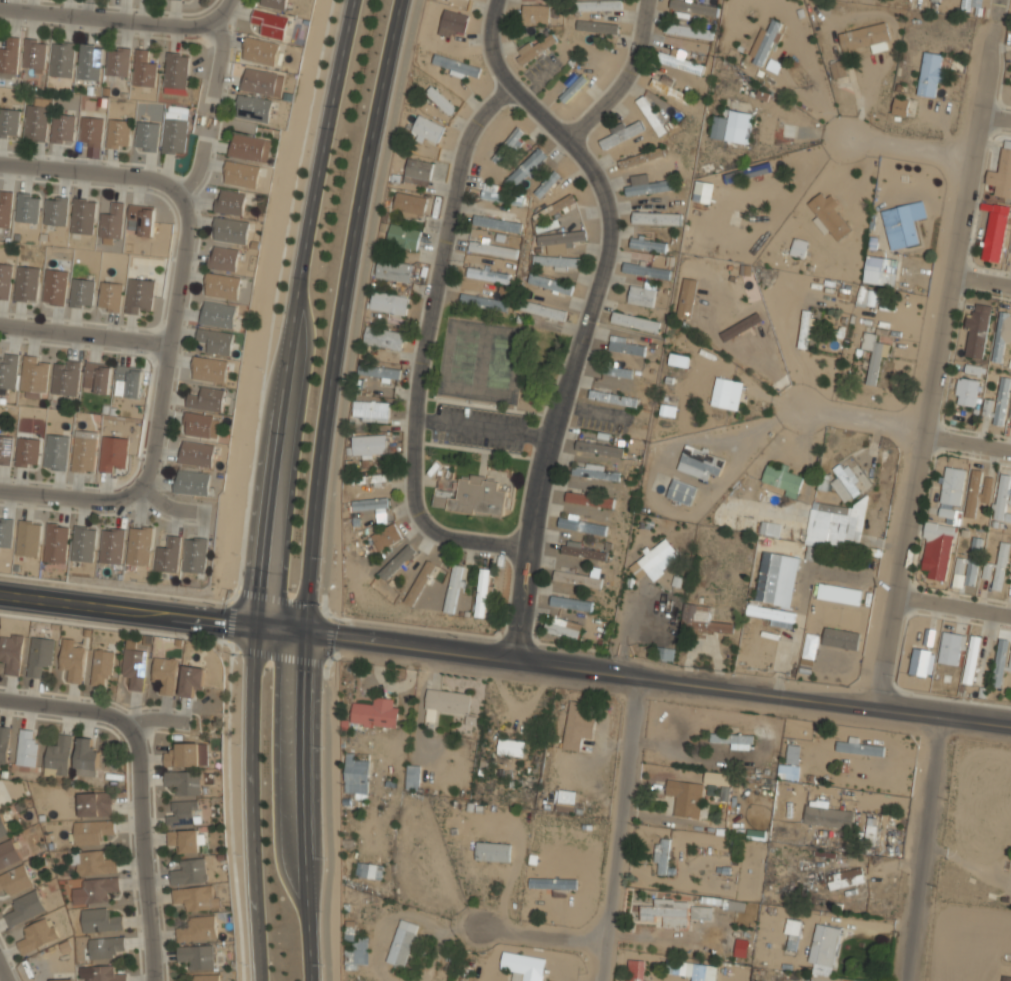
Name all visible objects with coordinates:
building: (183, 0)
building: (935, 0)
building: (273, 4)
building: (597, 5)
building: (971, 5)
building: (694, 7)
building: (536, 13)
road: (209, 14)
building: (448, 19)
road: (120, 22)
building: (270, 24)
building: (596, 26)
building: (689, 30)
building: (866, 37)
building: (764, 42)
building: (536, 48)
building: (260, 52)
building: (34, 54)
building: (9, 57)
building: (679, 57)
building: (62, 60)
building: (89, 62)
building: (118, 62)
building: (456, 65)
building: (838, 69)
building: (144, 70)
building: (176, 70)
building: (931, 74)
road: (626, 78)
building: (263, 83)
building: (573, 88)
building: (669, 90)
building: (440, 99)
building: (900, 106)
building: (254, 109)
building: (651, 115)
road: (995, 116)
building: (36, 118)
building: (8, 123)
building: (731, 126)
building: (62, 128)
building: (428, 128)
building: (765, 128)
building: (90, 131)
building: (174, 133)
building: (623, 133)
building: (118, 134)
building: (146, 136)
road: (901, 142)
building: (508, 145)
building: (249, 148)
building: (641, 158)
building: (525, 168)
building: (418, 171)
building: (747, 172)
building: (1002, 174)
building: (241, 175)
road: (109, 176)
building: (546, 184)
building: (647, 185)
building: (502, 196)
building: (230, 203)
building: (410, 203)
building: (554, 207)
building: (27, 208)
building: (5, 209)
building: (55, 211)
building: (829, 216)
building: (83, 217)
building: (656, 218)
building: (143, 219)
building: (112, 222)
building: (496, 223)
building: (903, 224)
building: (546, 226)
building: (230, 231)
building: (995, 232)
building: (403, 236)
building: (562, 238)
building: (648, 244)
building: (798, 247)
building: (493, 249)
building: (223, 258)
building: (556, 261)
building: (880, 269)
building: (394, 270)
building: (647, 270)
building: (487, 274)
building: (5, 280)
road: (981, 280)
building: (26, 283)
building: (550, 283)
building: (221, 286)
building: (55, 287)
building: (81, 293)
building: (642, 293)
building: (110, 296)
building: (139, 296)
building: (863, 296)
building: (389, 302)
building: (484, 302)
building: (542, 310)
road: (292, 311)
road: (591, 311)
building: (218, 314)
building: (730, 318)
building: (635, 321)
building: (741, 326)
building: (804, 329)
road: (166, 332)
building: (976, 332)
road: (82, 334)
building: (1002, 334)
building: (383, 337)
building: (216, 341)
building: (627, 345)
road: (424, 350)
road: (938, 354)
building: (873, 355)
building: (678, 359)
building: (209, 369)
building: (9, 371)
building: (618, 371)
building: (378, 372)
building: (99, 375)
building: (34, 378)
building: (66, 378)
building: (130, 380)
building: (967, 391)
building: (726, 393)
building: (614, 398)
building: (207, 399)
building: (1002, 401)
building: (668, 410)
building: (371, 411)
road: (854, 414)
building: (1010, 420)
building: (201, 425)
road: (968, 438)
building: (370, 445)
building: (589, 447)
building: (5, 449)
building: (27, 452)
building: (56, 453)
building: (113, 453)
building: (83, 454)
building: (196, 454)
building: (700, 462)
building: (596, 472)
building: (378, 479)
building: (782, 480)
building: (192, 483)
building: (843, 484)
building: (954, 486)
road: (314, 487)
road: (333, 489)
building: (977, 491)
building: (681, 493)
building: (473, 496)
road: (96, 497)
building: (1003, 499)
building: (589, 500)
building: (371, 504)
building: (950, 515)
building: (837, 523)
building: (583, 525)
building: (6, 532)
building: (387, 536)
building: (28, 539)
building: (56, 544)
building: (84, 545)
building: (112, 546)
building: (140, 547)
building: (584, 550)
building: (937, 550)
building: (169, 556)
building: (195, 556)
building: (655, 560)
building: (973, 561)
building: (397, 562)
building: (960, 565)
building: (1001, 566)
building: (987, 570)
building: (1010, 575)
building: (578, 577)
building: (769, 577)
building: (1010, 579)
building: (419, 583)
building: (453, 589)
building: (482, 593)
building: (571, 603)
road: (954, 606)
road: (127, 610)
building: (773, 615)
building: (703, 619)
traffic signals: (255, 627)
building: (560, 629)
traffic signals: (304, 633)
building: (837, 634)
building: (952, 648)
building: (12, 653)
building: (40, 655)
building: (972, 658)
building: (72, 660)
building: (922, 662)
building: (1000, 662)
building: (1010, 663)
building: (101, 668)
building: (135, 668)
building: (165, 674)
road: (632, 676)
building: (192, 680)
building: (446, 703)
road: (93, 712)
building: (375, 713)
building: (578, 726)
building: (733, 739)
building: (4, 746)
building: (511, 747)
building: (26, 748)
building: (860, 748)
building: (183, 755)
building: (58, 757)
building: (86, 759)
road: (250, 762)
building: (788, 772)
building: (356, 776)
building: (412, 777)
building: (184, 782)
building: (686, 796)
building: (565, 800)
building: (94, 806)
building: (183, 813)
building: (828, 817)
building: (3, 828)
road: (619, 829)
building: (91, 833)
building: (184, 840)
road: (924, 850)
building: (493, 851)
road: (141, 852)
building: (8, 854)
building: (662, 857)
building: (92, 864)
building: (418, 864)
building: (190, 872)
building: (845, 878)
building: (14, 880)
building: (553, 883)
building: (98, 892)
building: (195, 897)
building: (738, 906)
building: (24, 908)
building: (675, 912)
building: (99, 922)
building: (198, 929)
road: (541, 933)
building: (792, 935)
building: (37, 936)
road: (257, 940)
building: (402, 943)
building: (824, 944)
building: (106, 948)
building: (730, 951)
building: (197, 956)
building: (524, 966)
road: (5, 968)
building: (636, 970)
building: (689, 970)
building: (103, 974)
building: (206, 977)
building: (1006, 978)
building: (62, 980)

